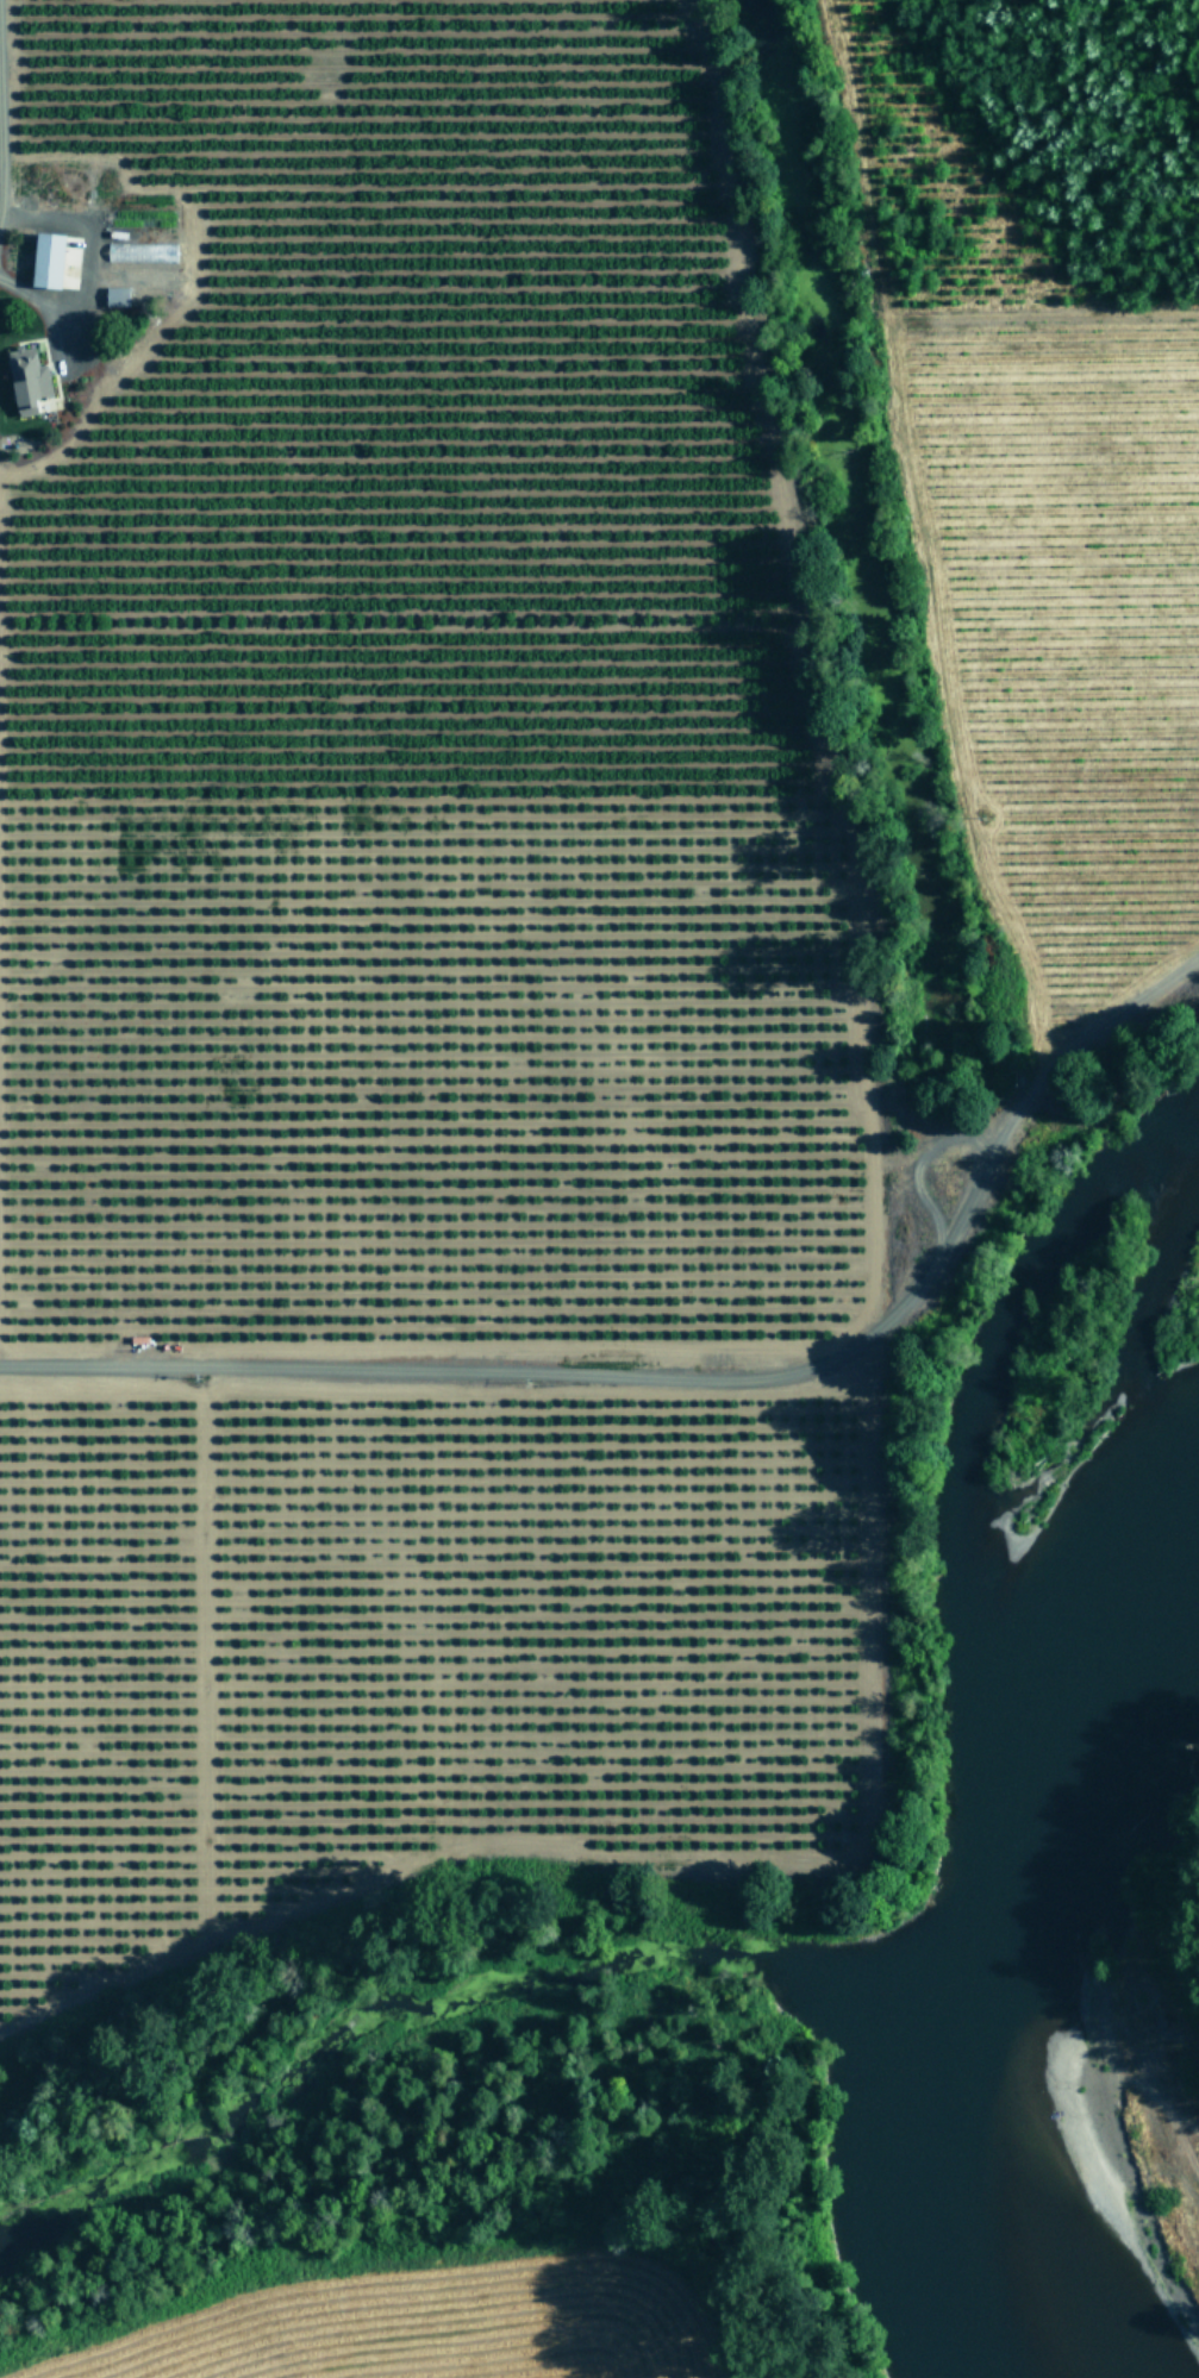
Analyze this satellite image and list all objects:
road: (1, 152)
building: (45, 259)
building: (114, 295)
building: (25, 378)
crop: (1059, 458)
road: (1148, 886)
crop: (394, 994)
road: (631, 1373)
river: (978, 1964)

